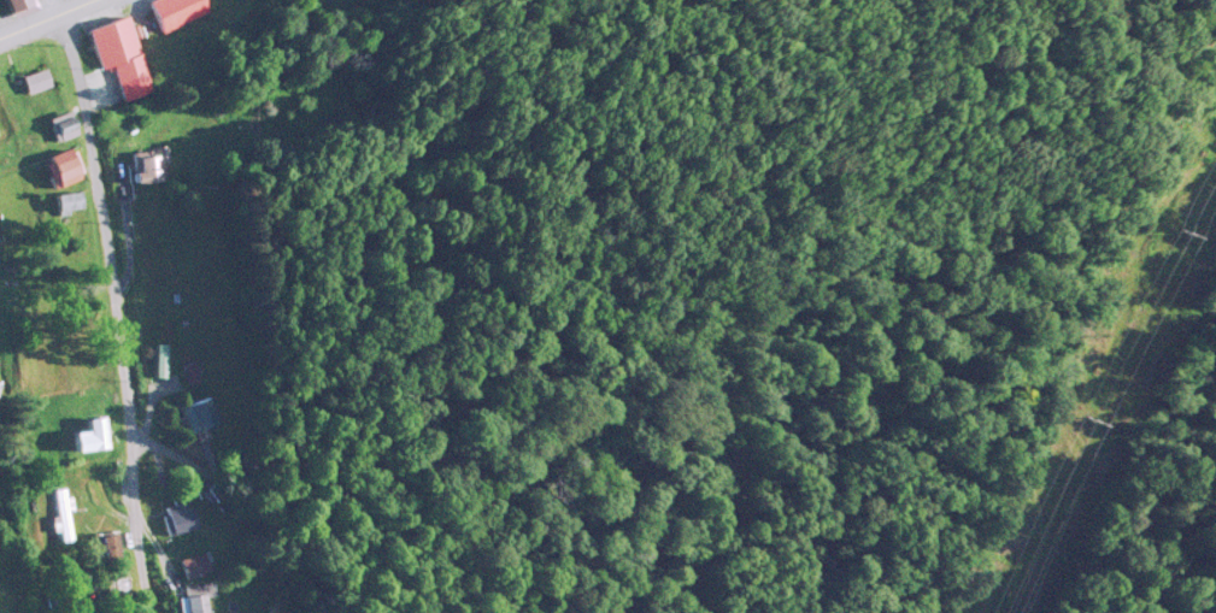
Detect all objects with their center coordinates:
building: (17, 5)
building: (176, 10)
road: (40, 16)
building: (119, 53)
building: (36, 78)
building: (61, 123)
building: (145, 164)
building: (60, 166)
building: (66, 199)
road: (127, 226)
building: (1, 229)
road: (116, 308)
building: (158, 358)
building: (190, 370)
building: (196, 413)
building: (89, 434)
building: (61, 513)
building: (178, 513)
road: (158, 541)
building: (195, 561)
building: (111, 567)
building: (195, 597)

